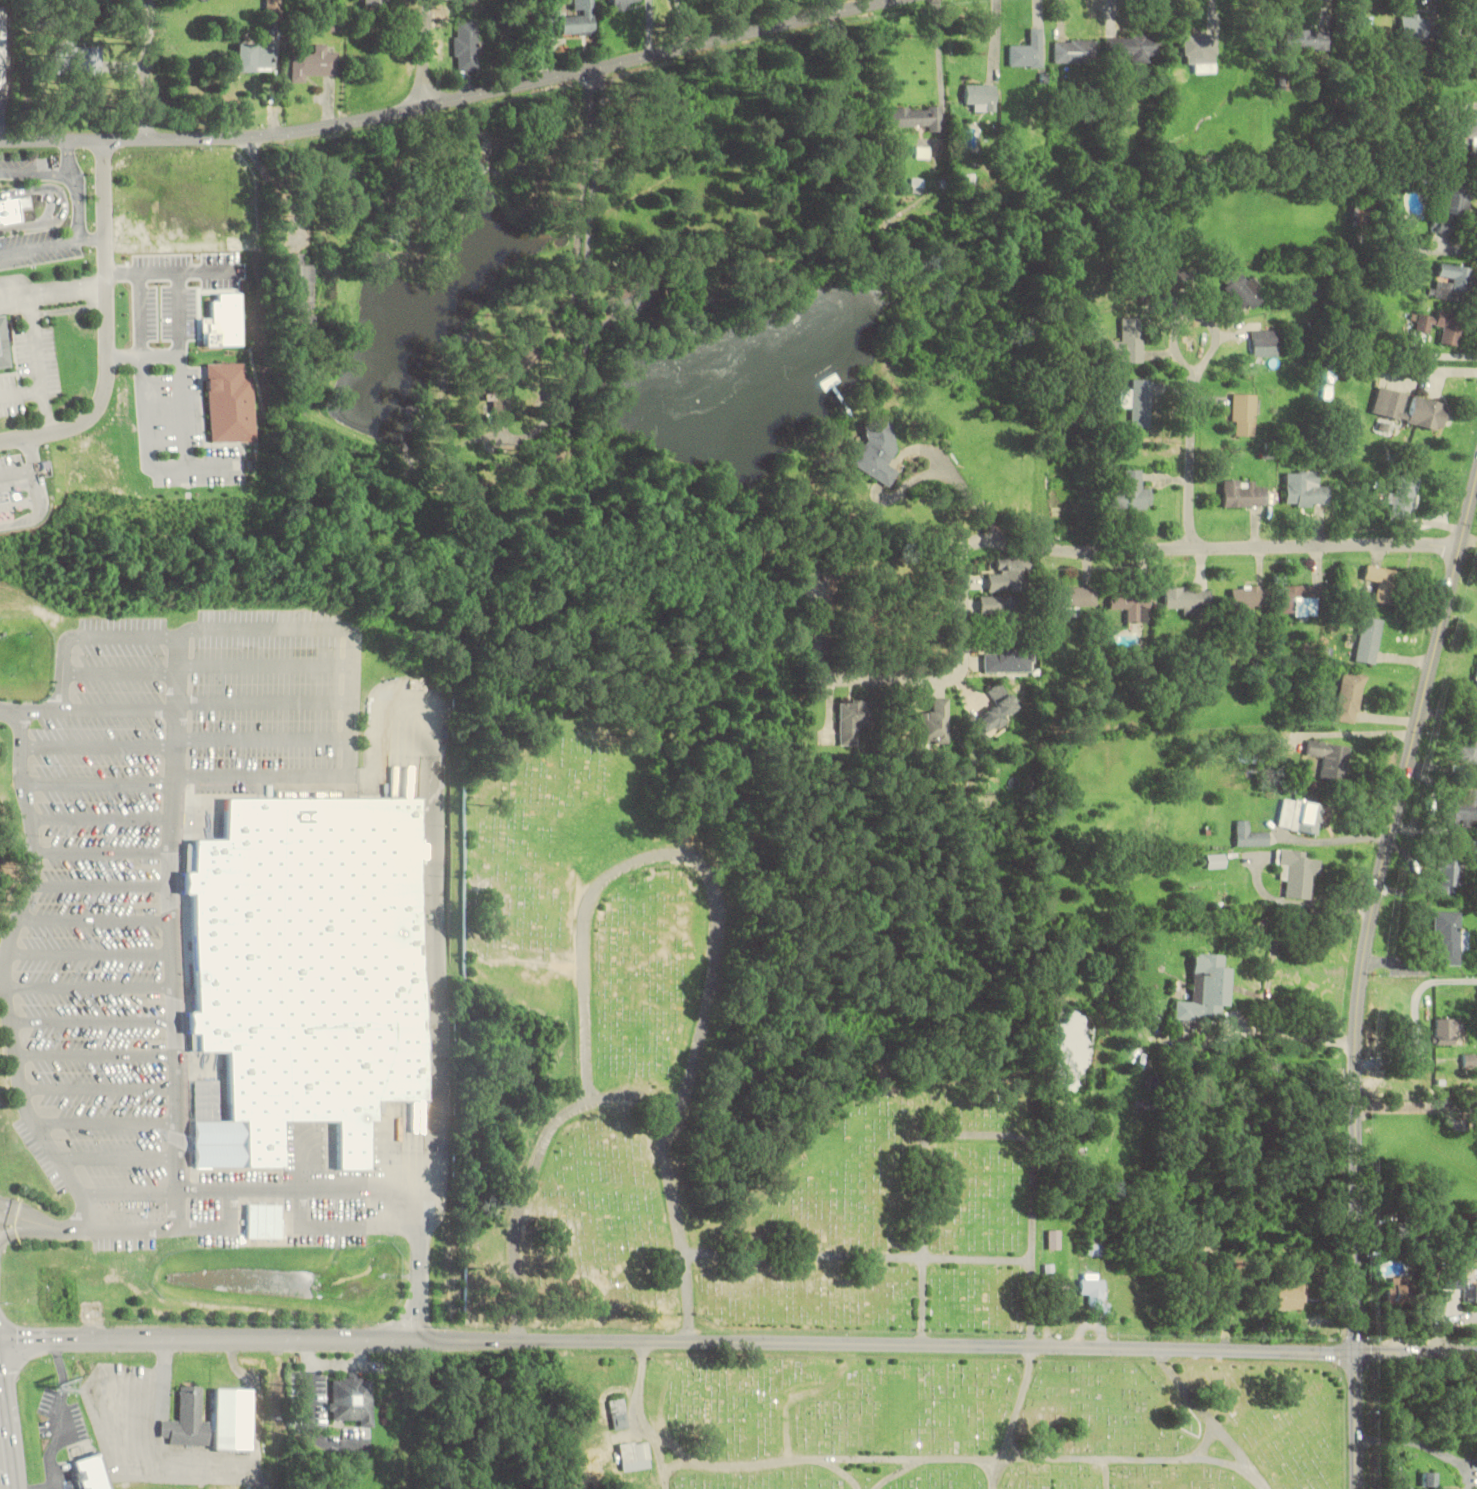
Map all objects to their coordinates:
building: (479, 1)
building: (375, 2)
building: (624, 3)
road: (828, 5)
building: (273, 11)
building: (580, 18)
building: (1414, 27)
building: (1307, 40)
building: (1, 45)
building: (466, 46)
building: (1135, 47)
road: (423, 51)
building: (1028, 51)
building: (1076, 51)
road: (647, 52)
building: (1201, 53)
building: (256, 57)
building: (78, 58)
building: (313, 63)
road: (940, 81)
building: (981, 97)
building: (906, 117)
building: (1471, 128)
road: (212, 135)
road: (68, 156)
parking lot: (25, 166)
road: (26, 170)
road: (80, 199)
road: (64, 201)
building: (9, 208)
building: (1453, 208)
building: (1360, 213)
road: (90, 234)
road: (33, 245)
parking lot: (37, 245)
building: (1452, 282)
building: (1242, 290)
building: (297, 293)
building: (630, 296)
road: (573, 304)
road: (1196, 316)
road: (108, 324)
building: (1443, 326)
building: (1131, 339)
building: (1263, 341)
building: (2, 345)
building: (1139, 402)
building: (1409, 408)
building: (1245, 415)
building: (878, 451)
road: (1192, 462)
building: (1305, 489)
building: (1134, 491)
building: (1243, 493)
building: (0, 494)
building: (1404, 497)
road: (1211, 547)
building: (1010, 575)
building: (1384, 583)
building: (1248, 595)
building: (1074, 599)
building: (1188, 599)
building: (1304, 599)
building: (1131, 605)
building: (1001, 606)
road: (342, 629)
building: (1368, 641)
building: (1006, 662)
road: (267, 665)
road: (177, 670)
road: (120, 672)
building: (1476, 677)
road: (908, 681)
building: (1350, 697)
road: (267, 702)
road: (87, 707)
building: (993, 717)
building: (852, 720)
building: (935, 722)
road: (265, 737)
road: (99, 743)
building: (1330, 758)
road: (99, 781)
building: (1460, 808)
road: (102, 815)
building: (1304, 816)
building: (1250, 835)
road: (103, 849)
road: (683, 855)
building: (1216, 861)
building: (1298, 873)
building: (1449, 876)
road: (101, 883)
parking lot: (159, 892)
road: (439, 904)
road: (94, 917)
building: (1448, 938)
road: (88, 951)
building: (314, 962)
road: (173, 967)
road: (1, 973)
road: (1362, 980)
road: (87, 985)
building: (1206, 989)
road: (88, 1020)
building: (1448, 1032)
road: (90, 1052)
building: (1469, 1060)
road: (93, 1086)
road: (610, 1097)
road: (100, 1120)
road: (111, 1155)
road: (923, 1188)
road: (358, 1190)
road: (123, 1192)
park: (779, 1193)
road: (231, 1207)
building: (267, 1216)
road: (202, 1224)
road: (342, 1224)
road: (85, 1226)
road: (27, 1228)
building: (1401, 1230)
building: (1054, 1239)
building: (1094, 1250)
road: (858, 1257)
building: (1453, 1279)
building: (1397, 1290)
building: (1093, 1292)
building: (1474, 1293)
building: (1289, 1297)
road: (1032, 1321)
road: (678, 1344)
road: (1417, 1355)
road: (167, 1371)
building: (351, 1400)
road: (790, 1405)
building: (618, 1413)
building: (235, 1416)
building: (189, 1417)
road: (643, 1417)
road: (1210, 1420)
road: (670, 1446)
building: (633, 1455)
road: (1052, 1461)
road: (803, 1462)
road: (1224, 1465)
road: (2, 1467)
road: (673, 1467)
building: (93, 1471)
road: (839, 1472)
road: (1108, 1474)

